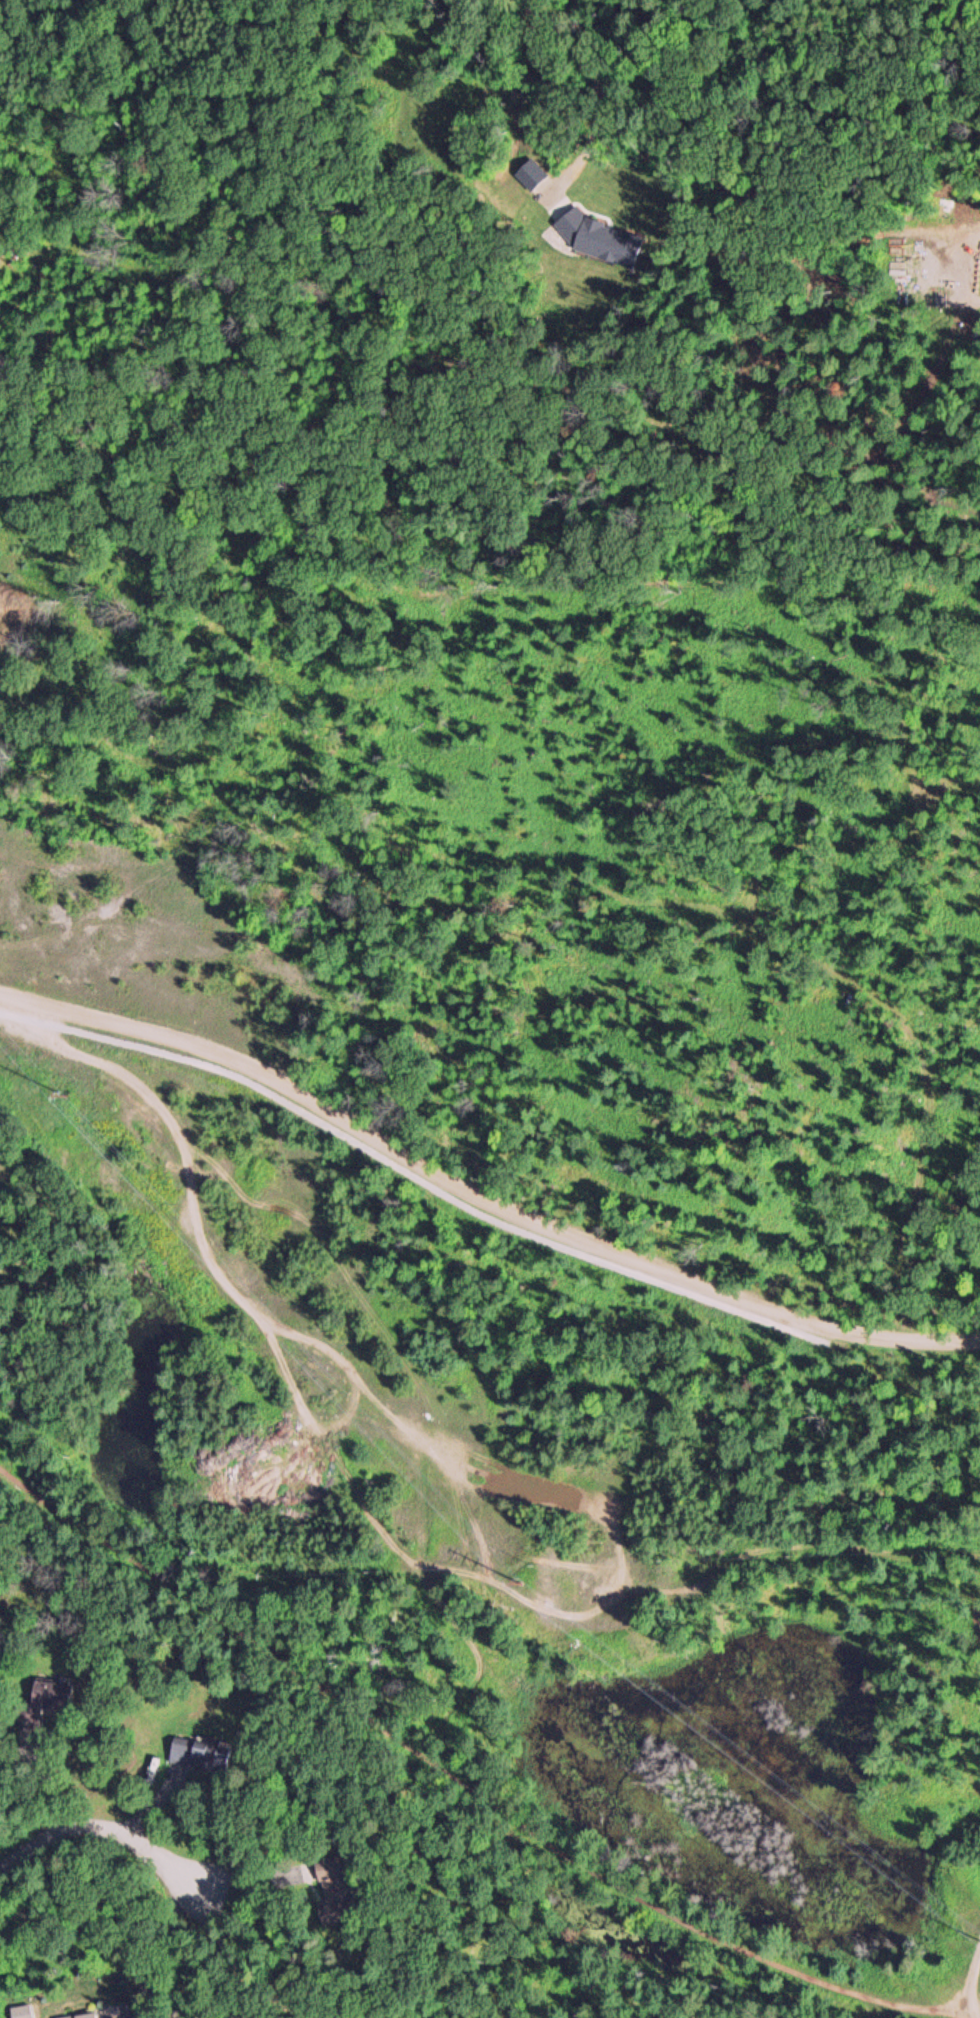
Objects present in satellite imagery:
power tower: (63, 1086)
road: (482, 1192)
road: (444, 1197)
power tower: (514, 1580)
building: (37, 1703)
building: (194, 1750)
road: (101, 1833)
building: (331, 1890)
building: (79, 2015)

